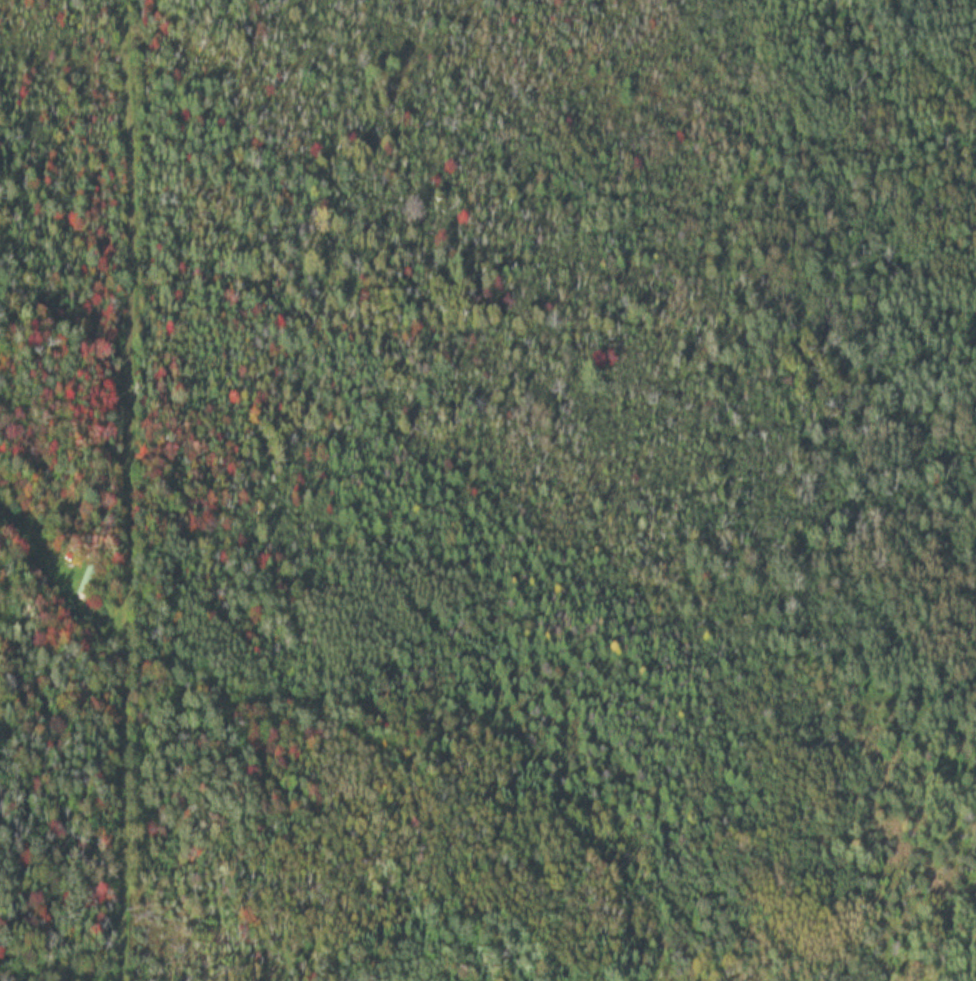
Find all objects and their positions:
road: (127, 490)
building: (85, 584)

